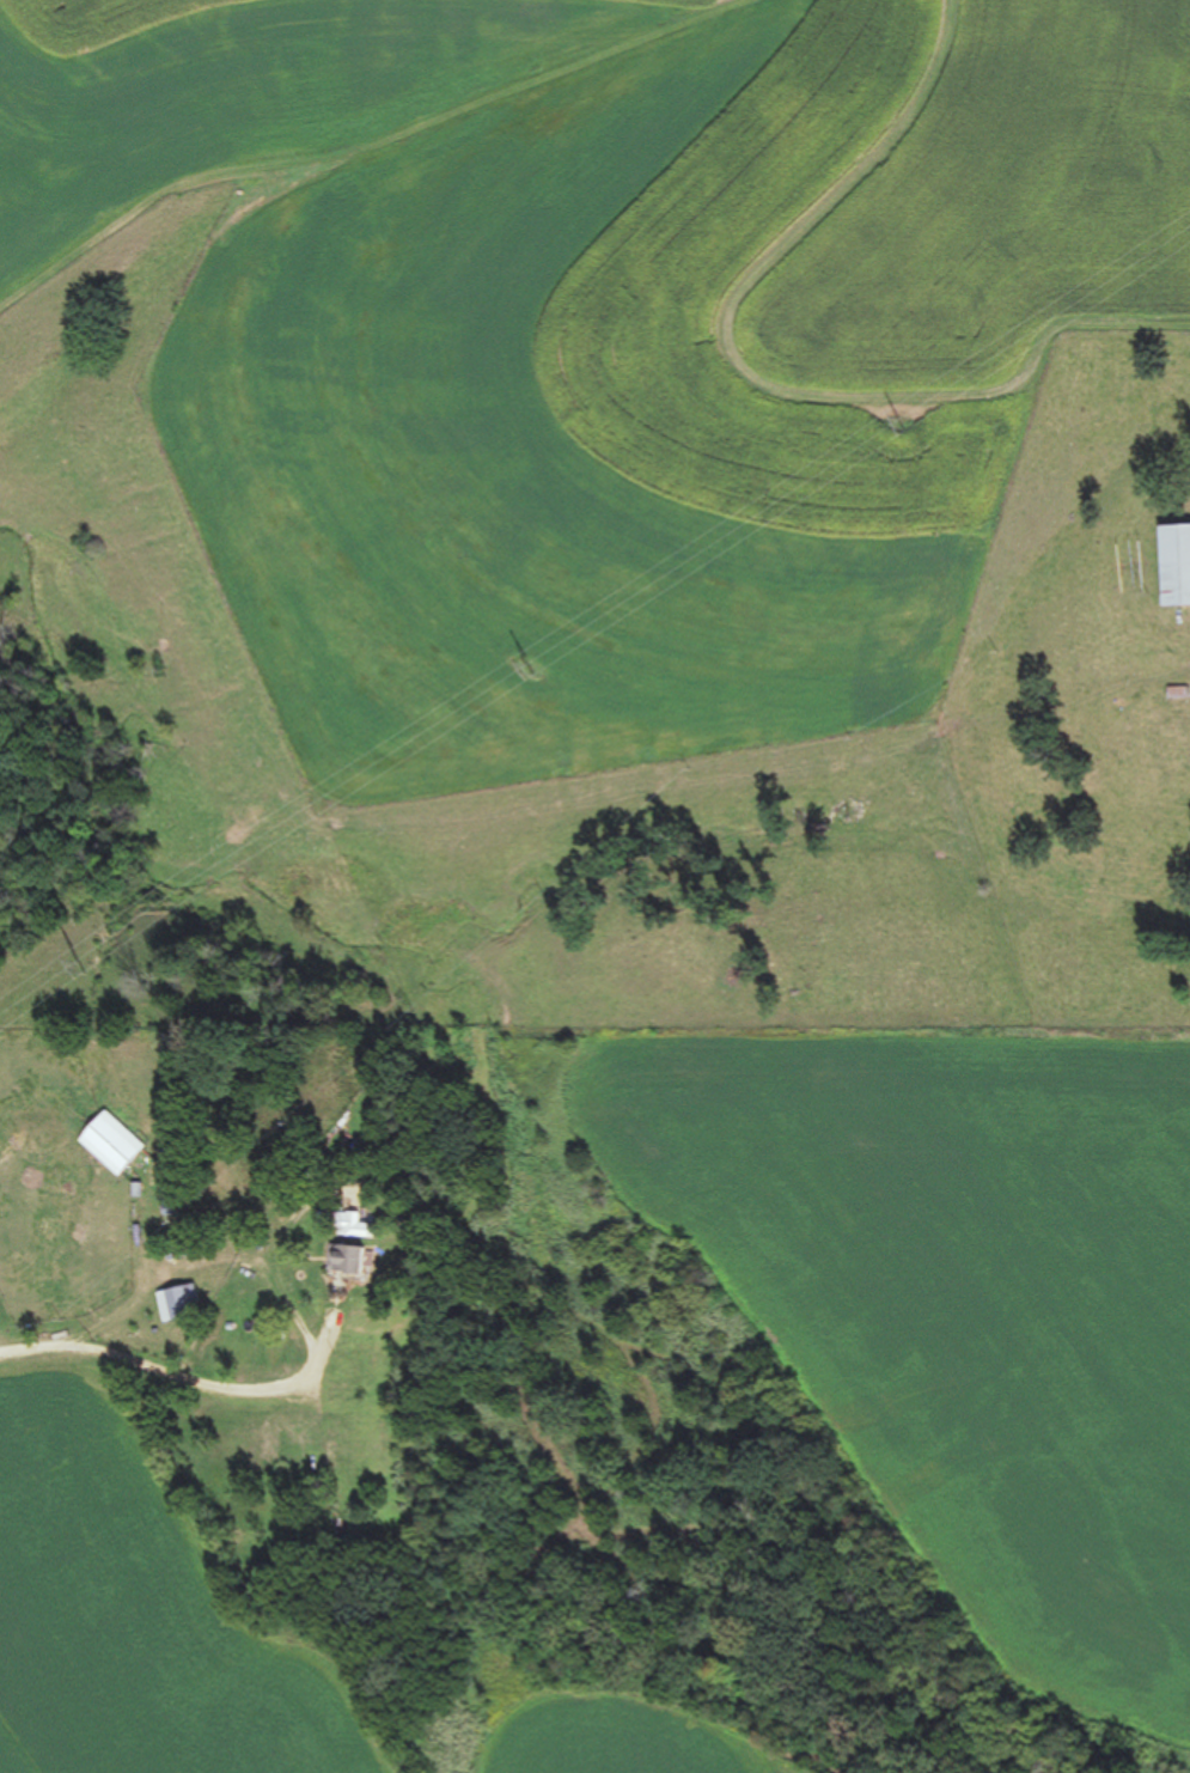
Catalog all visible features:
power tower: (916, 424)
building: (1179, 566)
power tower: (537, 676)
power tower: (104, 964)
building: (120, 1141)
building: (193, 1248)
building: (183, 1303)
road: (138, 1358)

